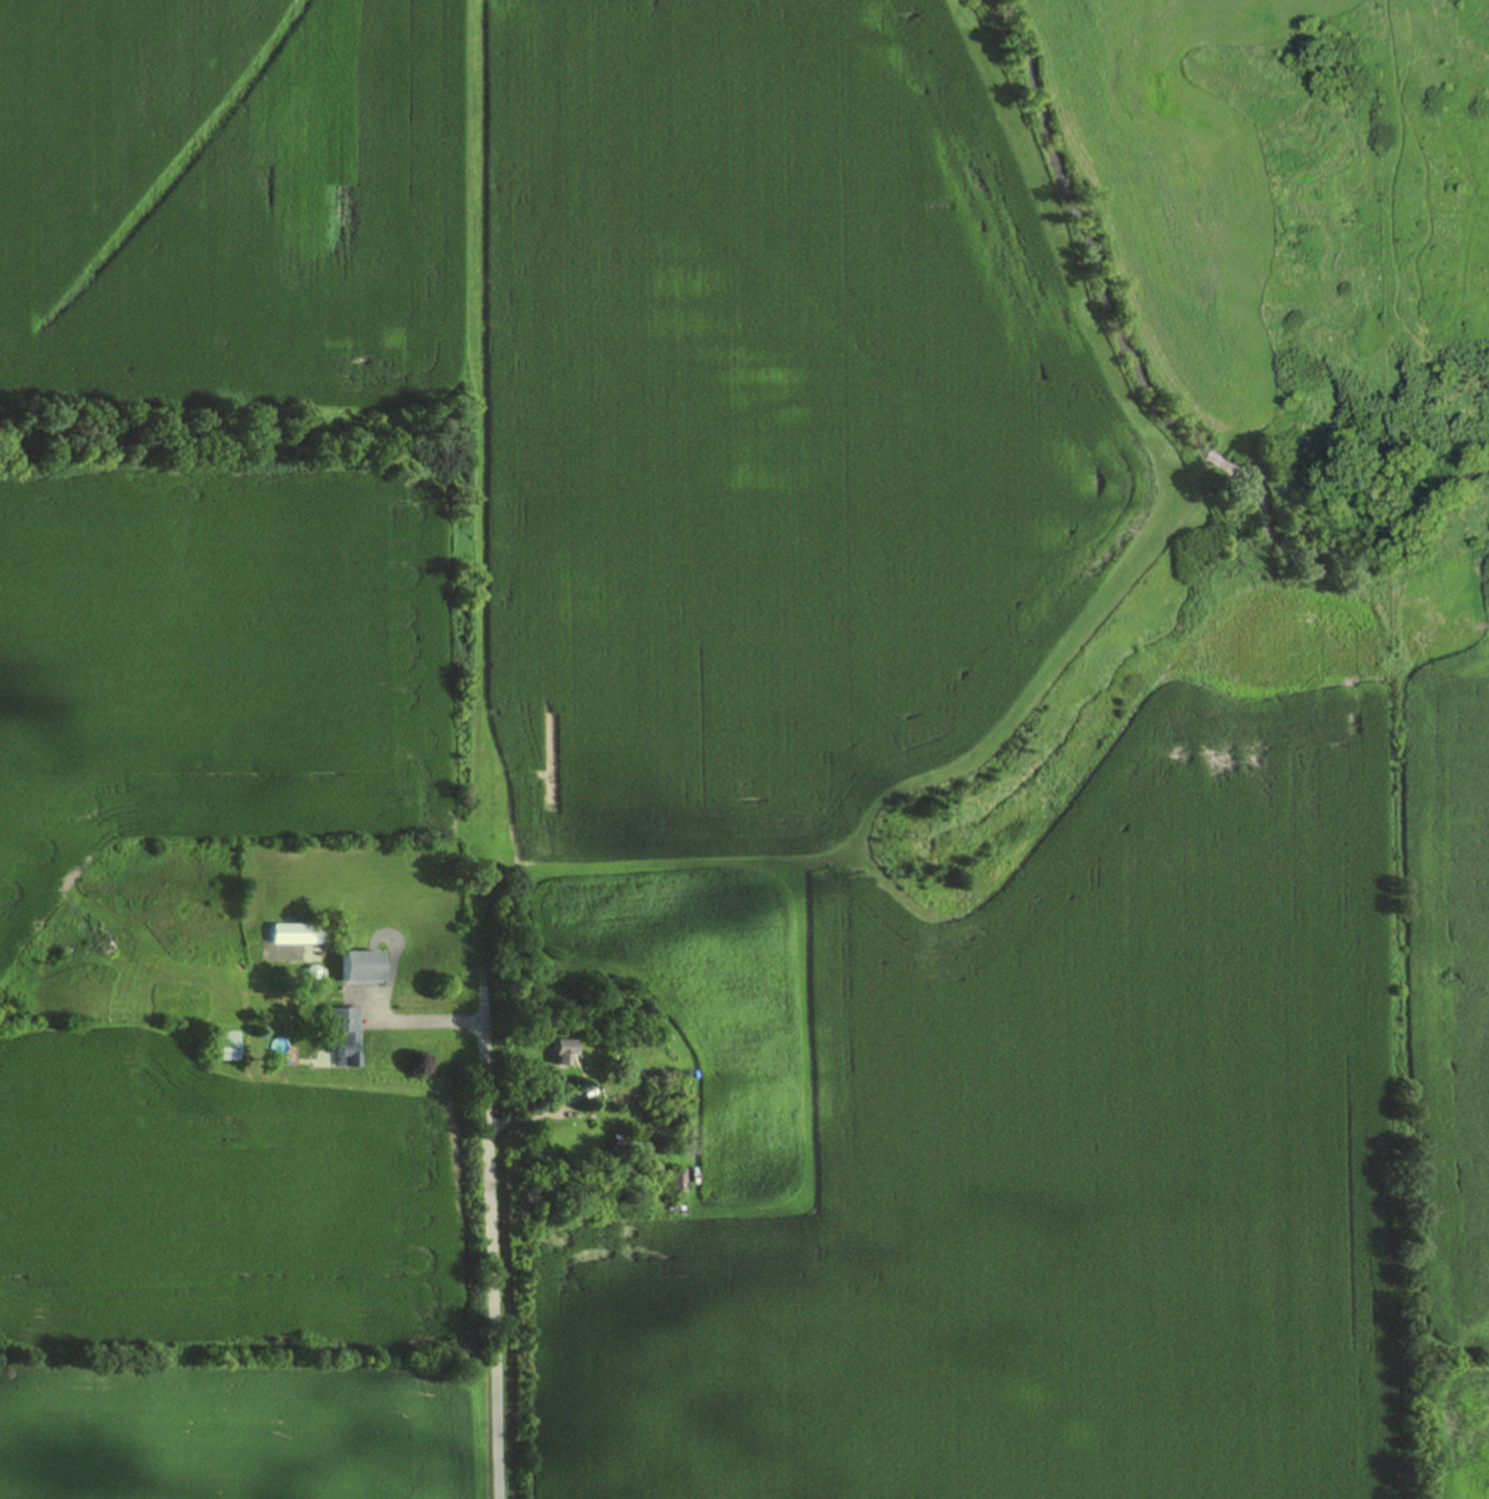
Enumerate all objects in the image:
building: (299, 932)
building: (363, 965)
road: (485, 975)
building: (343, 1032)
building: (223, 1044)
building: (565, 1050)
building: (625, 1139)
building: (677, 1179)

